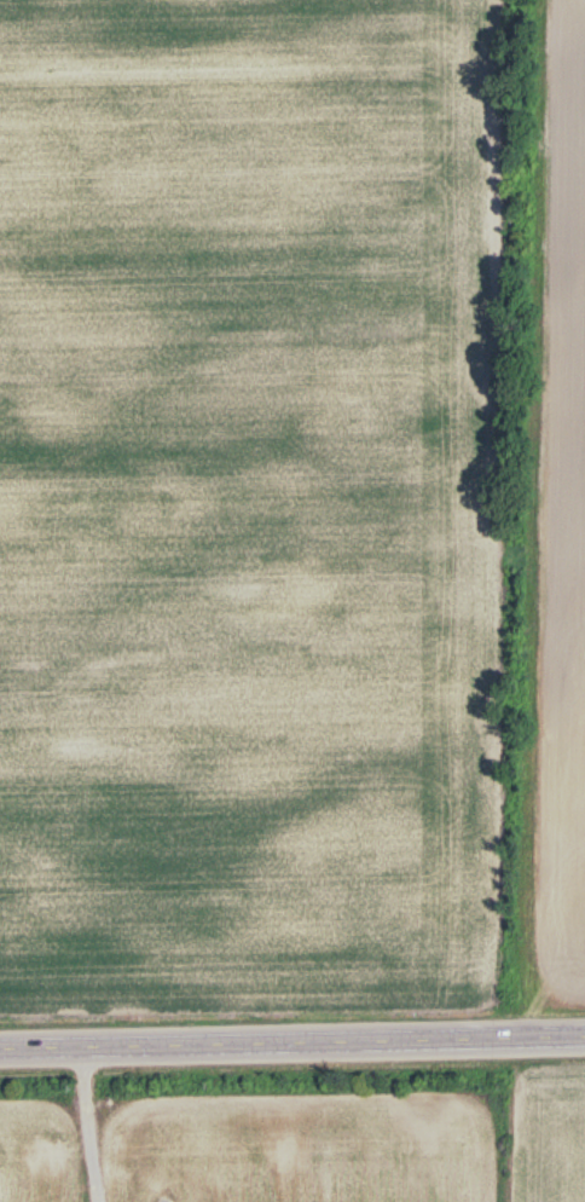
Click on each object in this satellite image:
road: (292, 1045)
road: (87, 1125)

